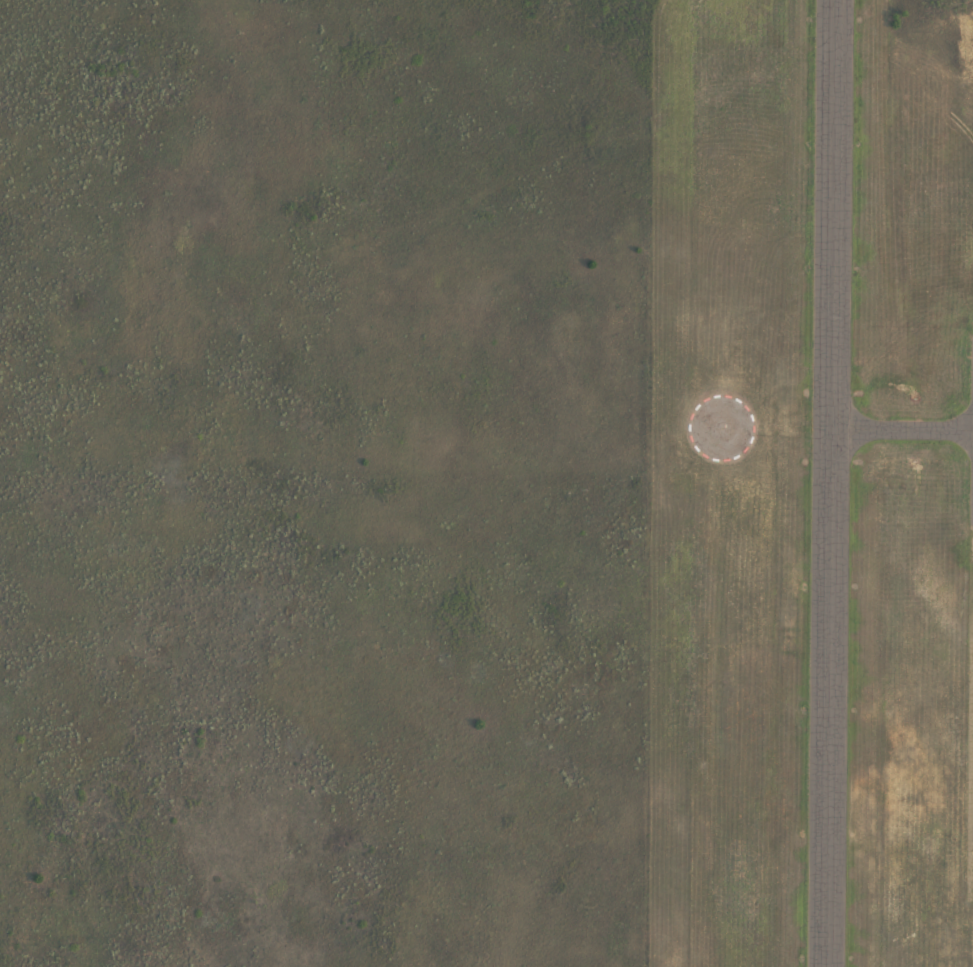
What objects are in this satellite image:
airport taxiway: (843, 418)
airport taxiway: (918, 429)
airport apron: (971, 438)
airport taxiway: (841, 441)
airport runway: (830, 483)
airport: (811, 484)

